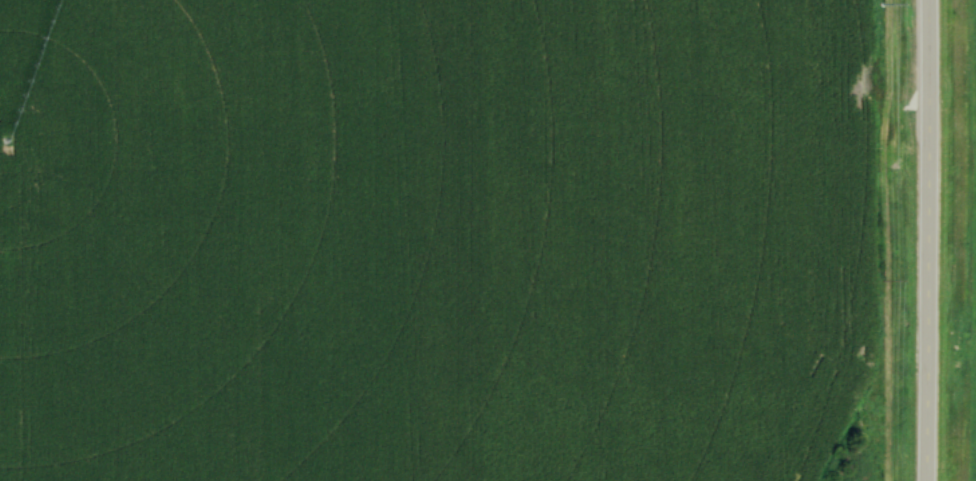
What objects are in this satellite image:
road: (927, 240)

